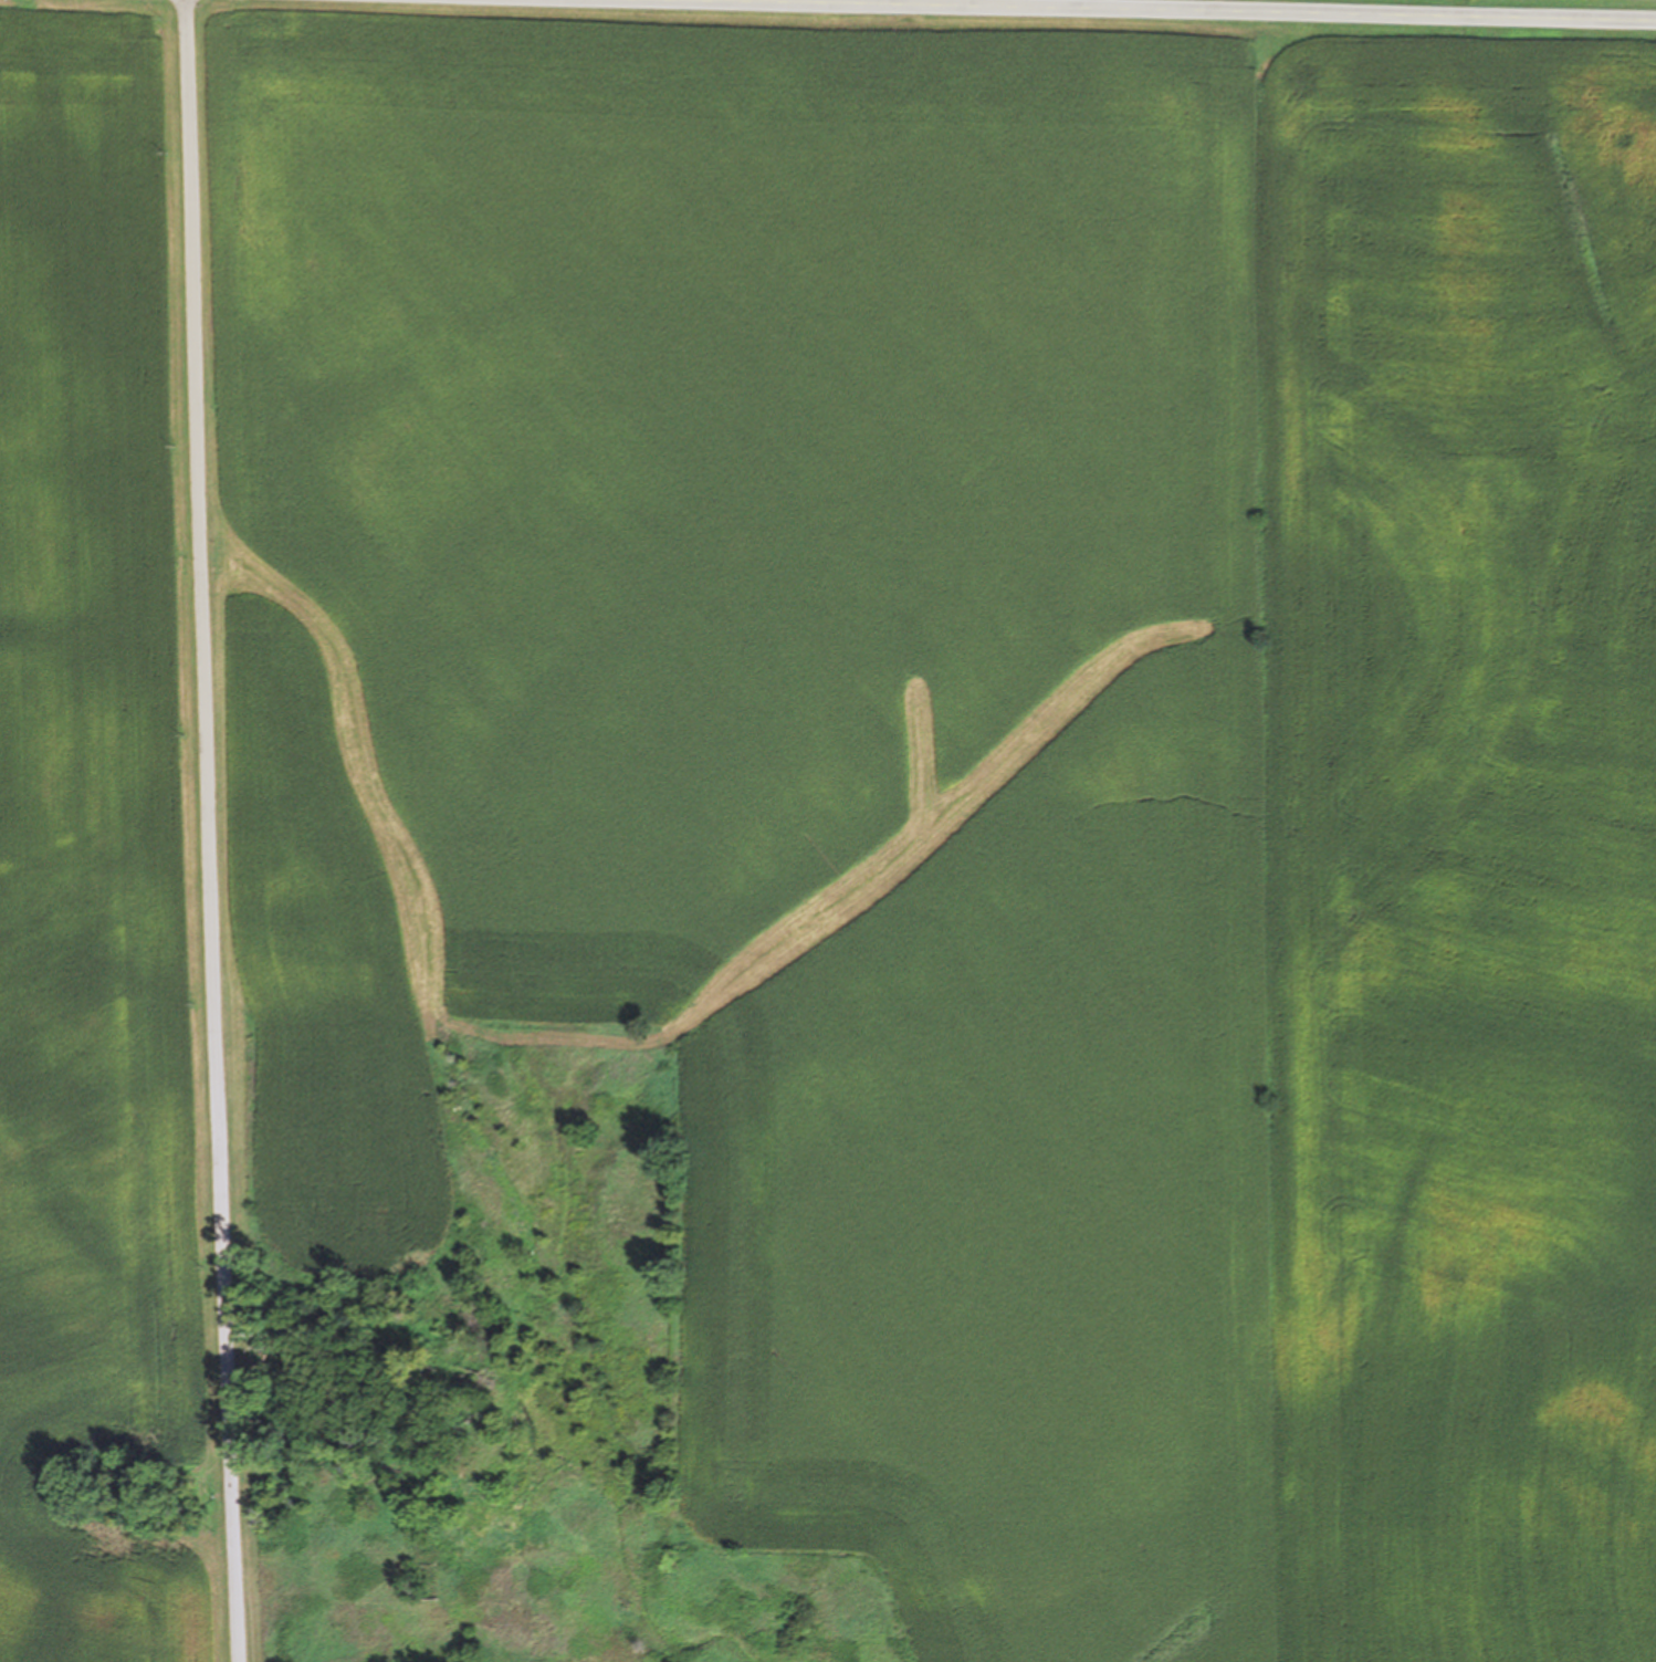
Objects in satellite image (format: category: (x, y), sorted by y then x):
road: (1110, 12)
road: (212, 830)

